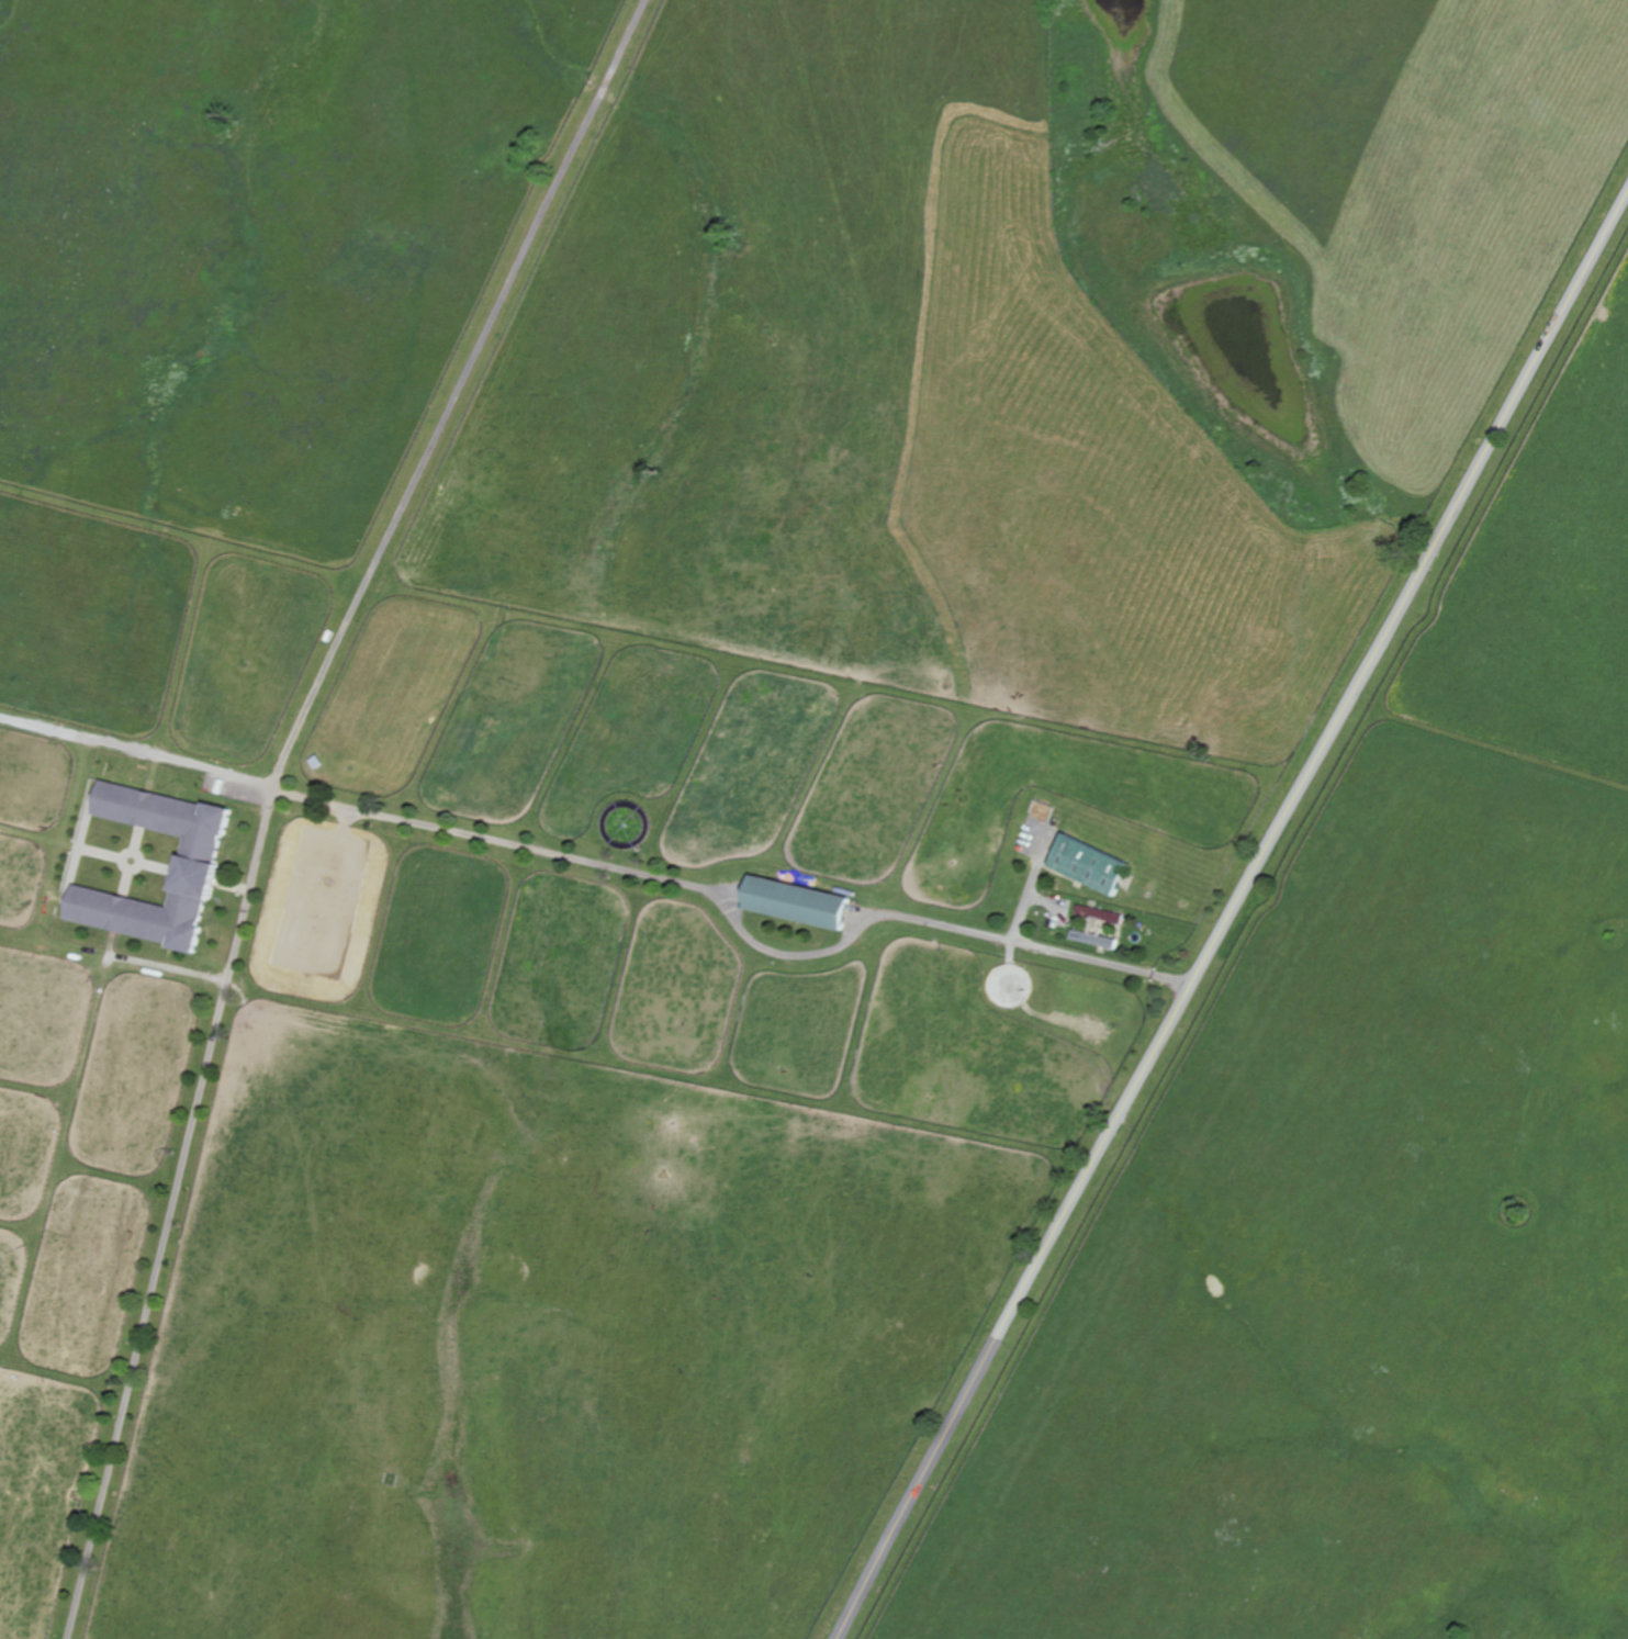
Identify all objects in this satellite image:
road: (1317, 760)
road: (272, 789)
building: (187, 822)
building: (173, 875)
building: (797, 900)
road: (737, 921)
building: (164, 927)
road: (922, 1481)

